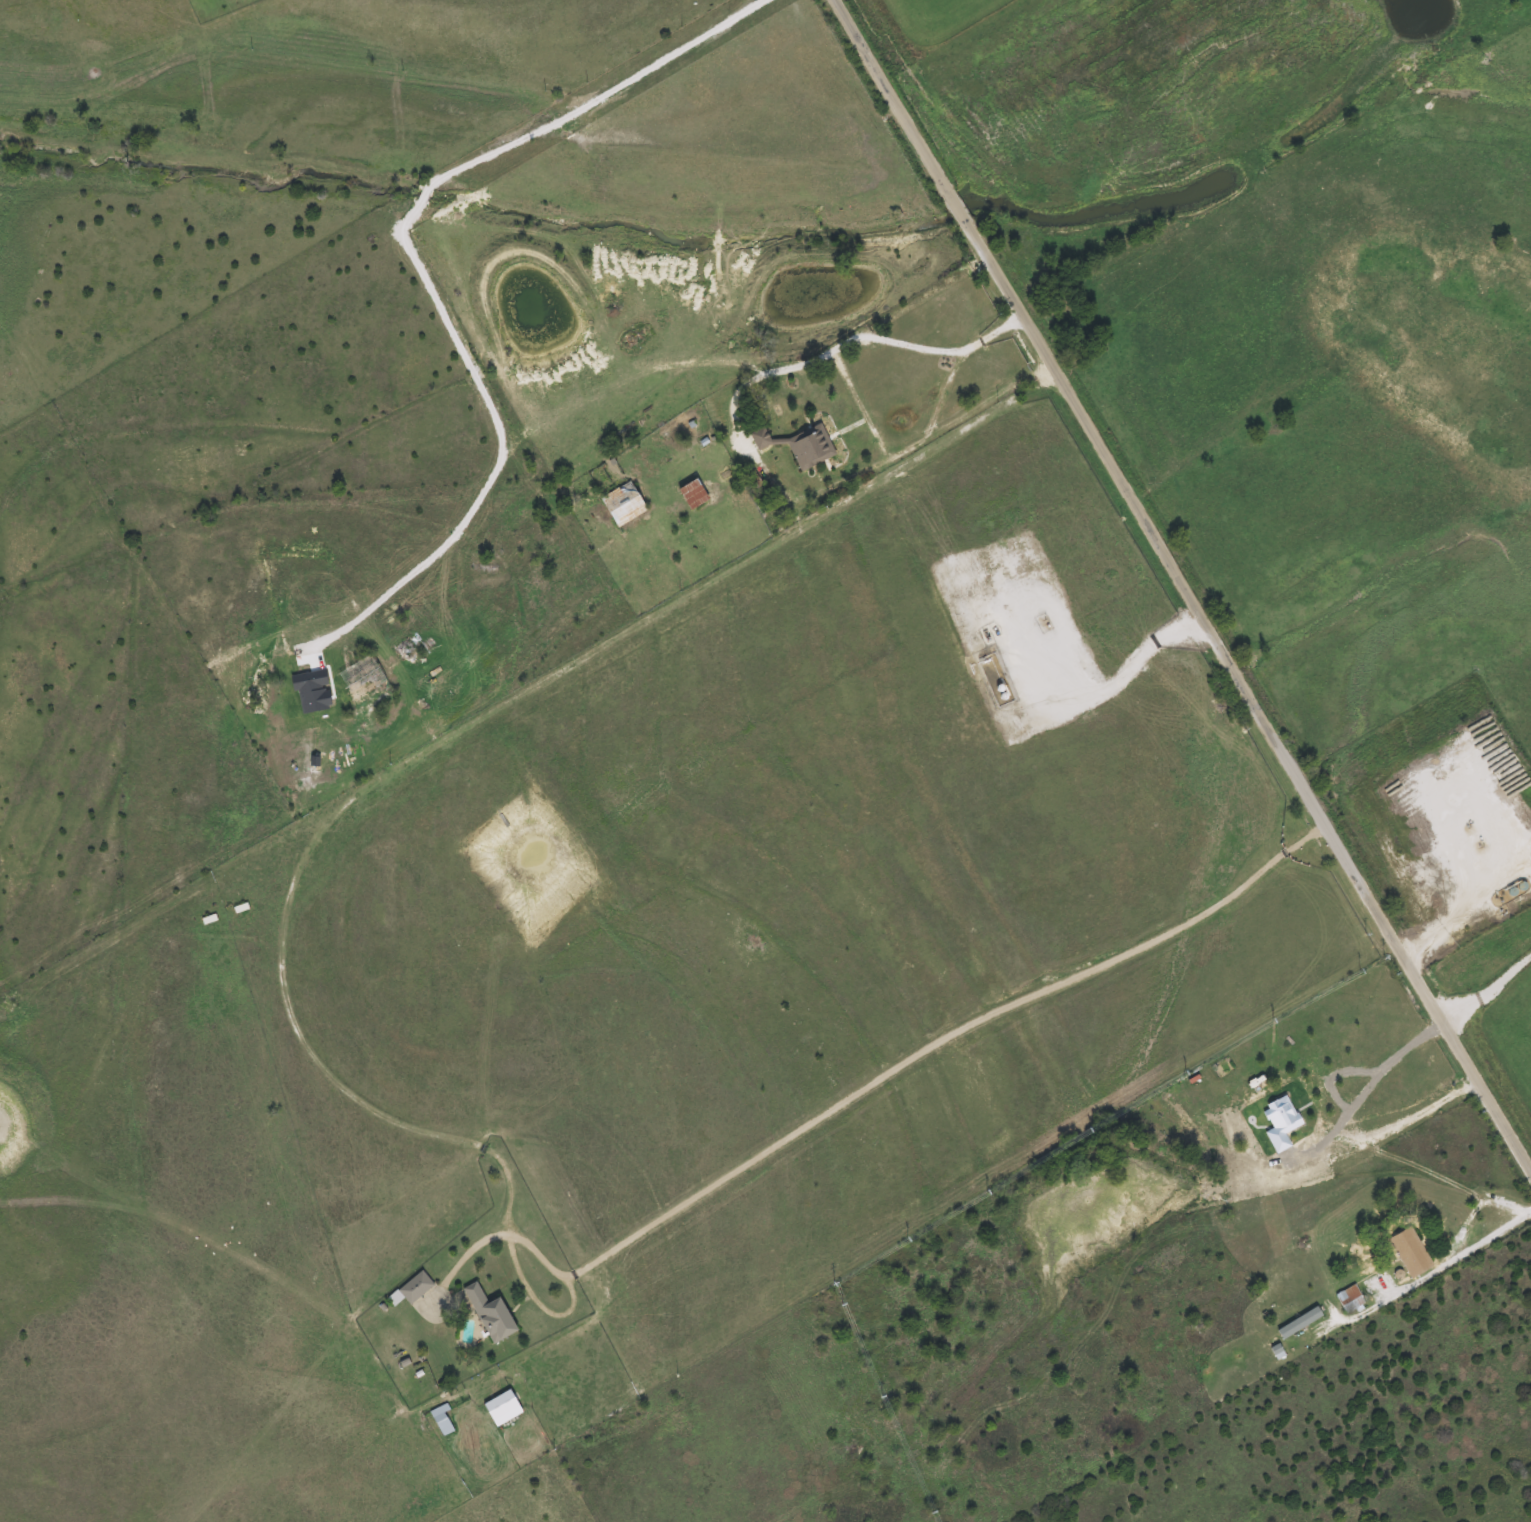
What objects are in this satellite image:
road: (422, 270)
building: (626, 341)
road: (808, 359)
building: (758, 437)
building: (808, 448)
road: (894, 453)
building: (689, 494)
building: (620, 504)
road: (1185, 582)
road: (915, 647)
building: (993, 678)
building: (354, 682)
road: (449, 725)
road: (1370, 1086)
road: (861, 1088)
building: (1250, 1109)
road: (1412, 1120)
building: (1242, 1167)
building: (1406, 1251)
road: (1426, 1274)
building: (408, 1288)
building: (1346, 1298)
building: (486, 1313)
building: (1295, 1321)
building: (497, 1408)
building: (438, 1420)

